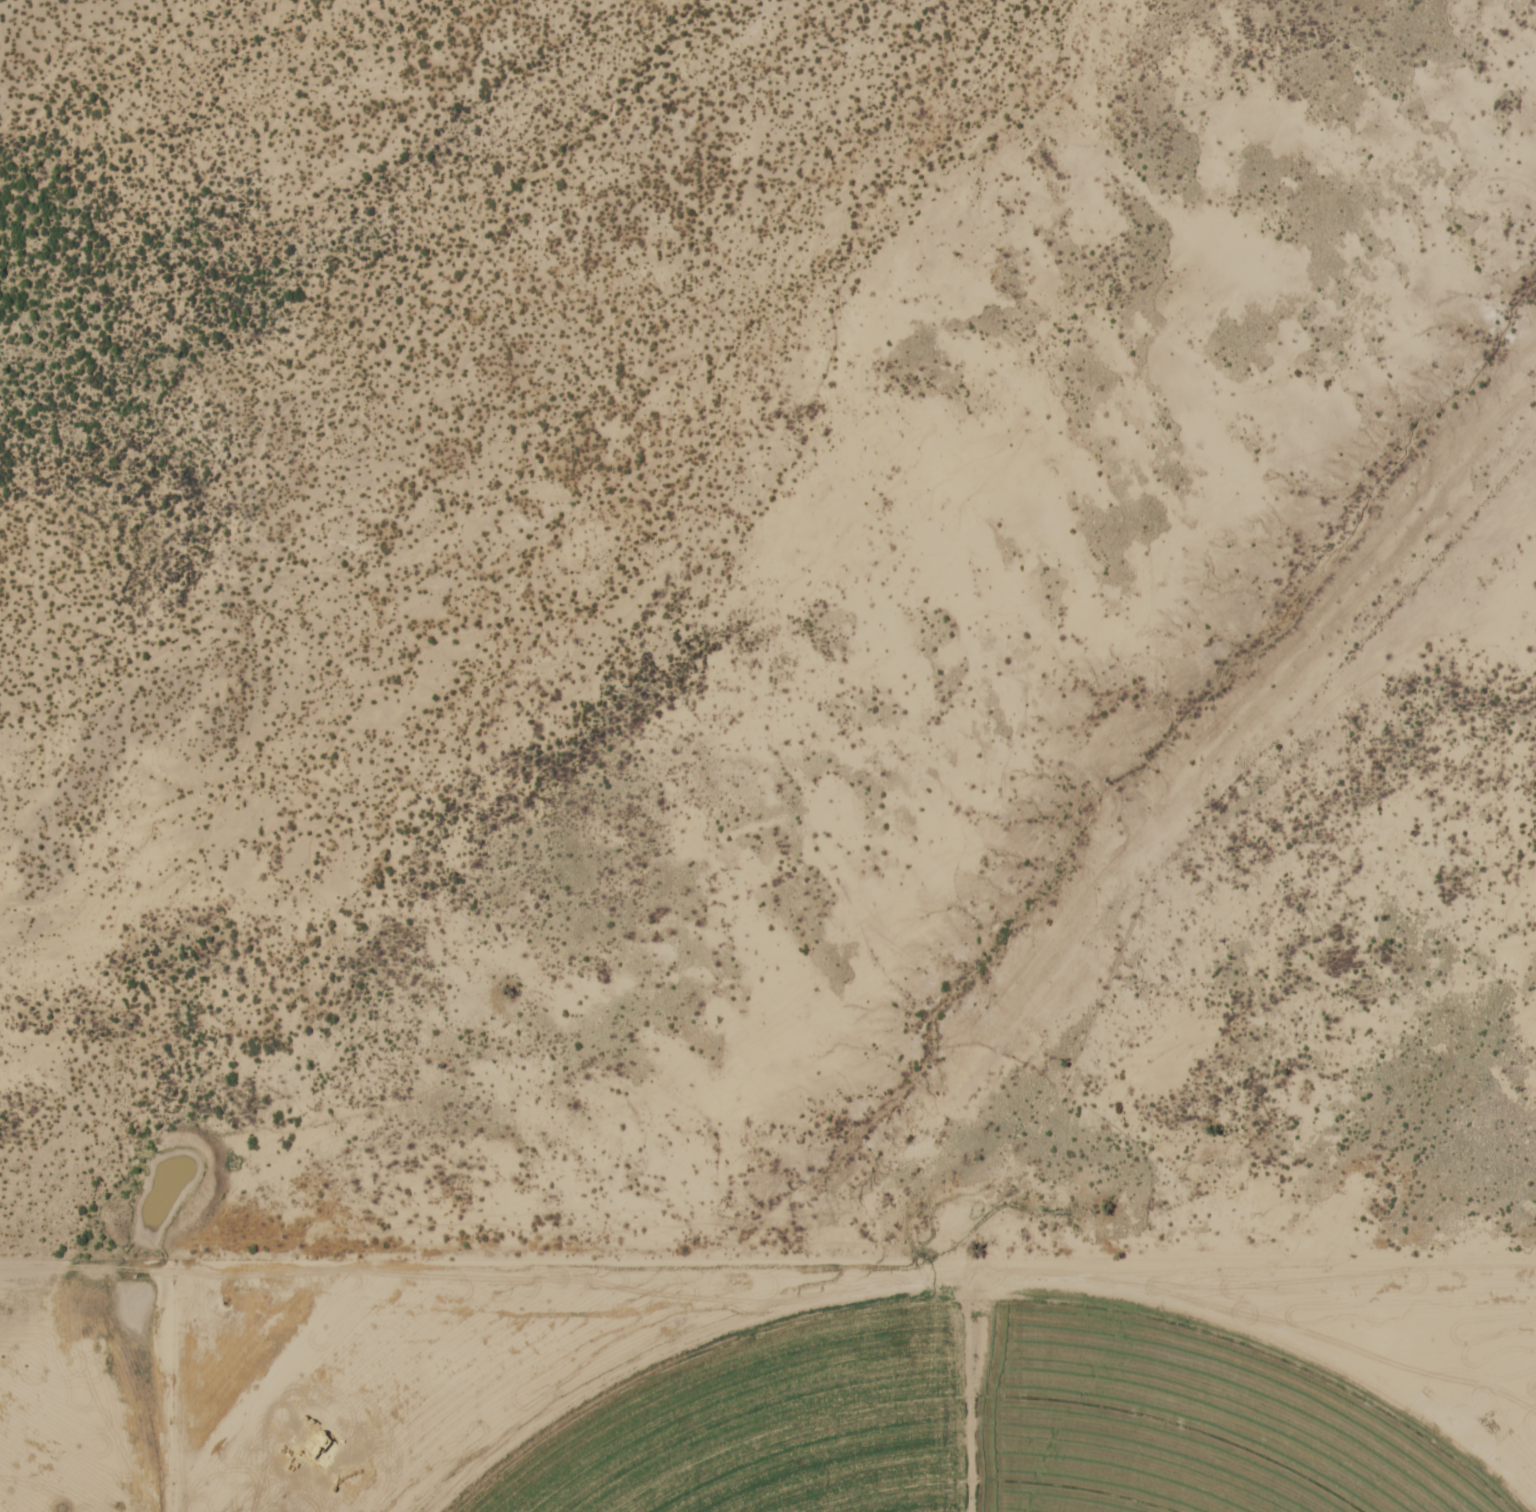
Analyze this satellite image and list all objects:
road: (1222, 730)
crop: (994, 1419)

